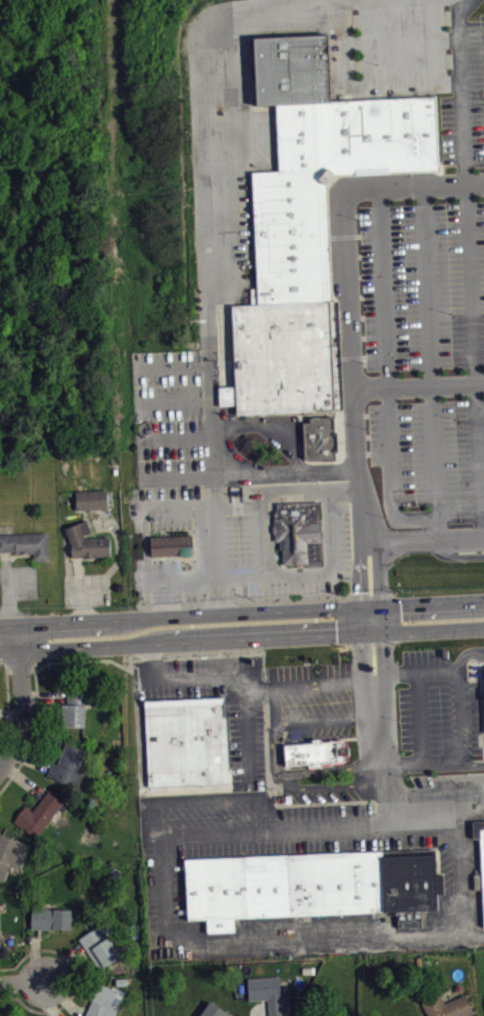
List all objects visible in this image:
road: (338, 1)
road: (462, 5)
road: (397, 41)
parking lot: (403, 53)
road: (74, 86)
road: (355, 88)
road: (4, 151)
road: (18, 161)
road: (129, 188)
road: (212, 195)
building: (309, 218)
road: (343, 221)
road: (468, 276)
road: (426, 285)
road: (57, 287)
parking lot: (423, 287)
road: (386, 371)
road: (457, 384)
road: (391, 386)
building: (316, 445)
road: (144, 449)
parking lot: (431, 461)
road: (434, 464)
road: (214, 473)
road: (288, 489)
road: (363, 497)
building: (91, 498)
road: (177, 507)
road: (328, 515)
road: (257, 518)
building: (299, 533)
building: (86, 541)
road: (460, 542)
building: (25, 543)
road: (143, 543)
building: (171, 545)
road: (403, 546)
parking lot: (237, 550)
road: (273, 576)
road: (155, 578)
road: (172, 578)
road: (427, 604)
traffic signals: (370, 606)
road: (248, 610)
road: (370, 618)
road: (71, 621)
road: (427, 629)
traffic signals: (371, 631)
road: (276, 634)
road: (9, 637)
road: (99, 644)
road: (431, 668)
road: (227, 680)
road: (311, 685)
parking lot: (311, 703)
road: (21, 704)
building: (74, 709)
parking lot: (439, 712)
road: (420, 717)
road: (380, 728)
parking lot: (247, 741)
building: (185, 742)
road: (460, 752)
building: (314, 753)
road: (277, 754)
road: (472, 762)
building: (67, 763)
road: (204, 803)
building: (39, 813)
road: (320, 830)
parking lot: (283, 851)
building: (10, 853)
road: (461, 869)
building: (482, 884)
building: (310, 889)
building: (50, 918)
road: (274, 941)
building: (0, 942)
building: (99, 946)
road: (22, 981)
building: (268, 994)
building: (101, 1002)
building: (447, 1006)
building: (213, 1010)
building: (312, 1014)

